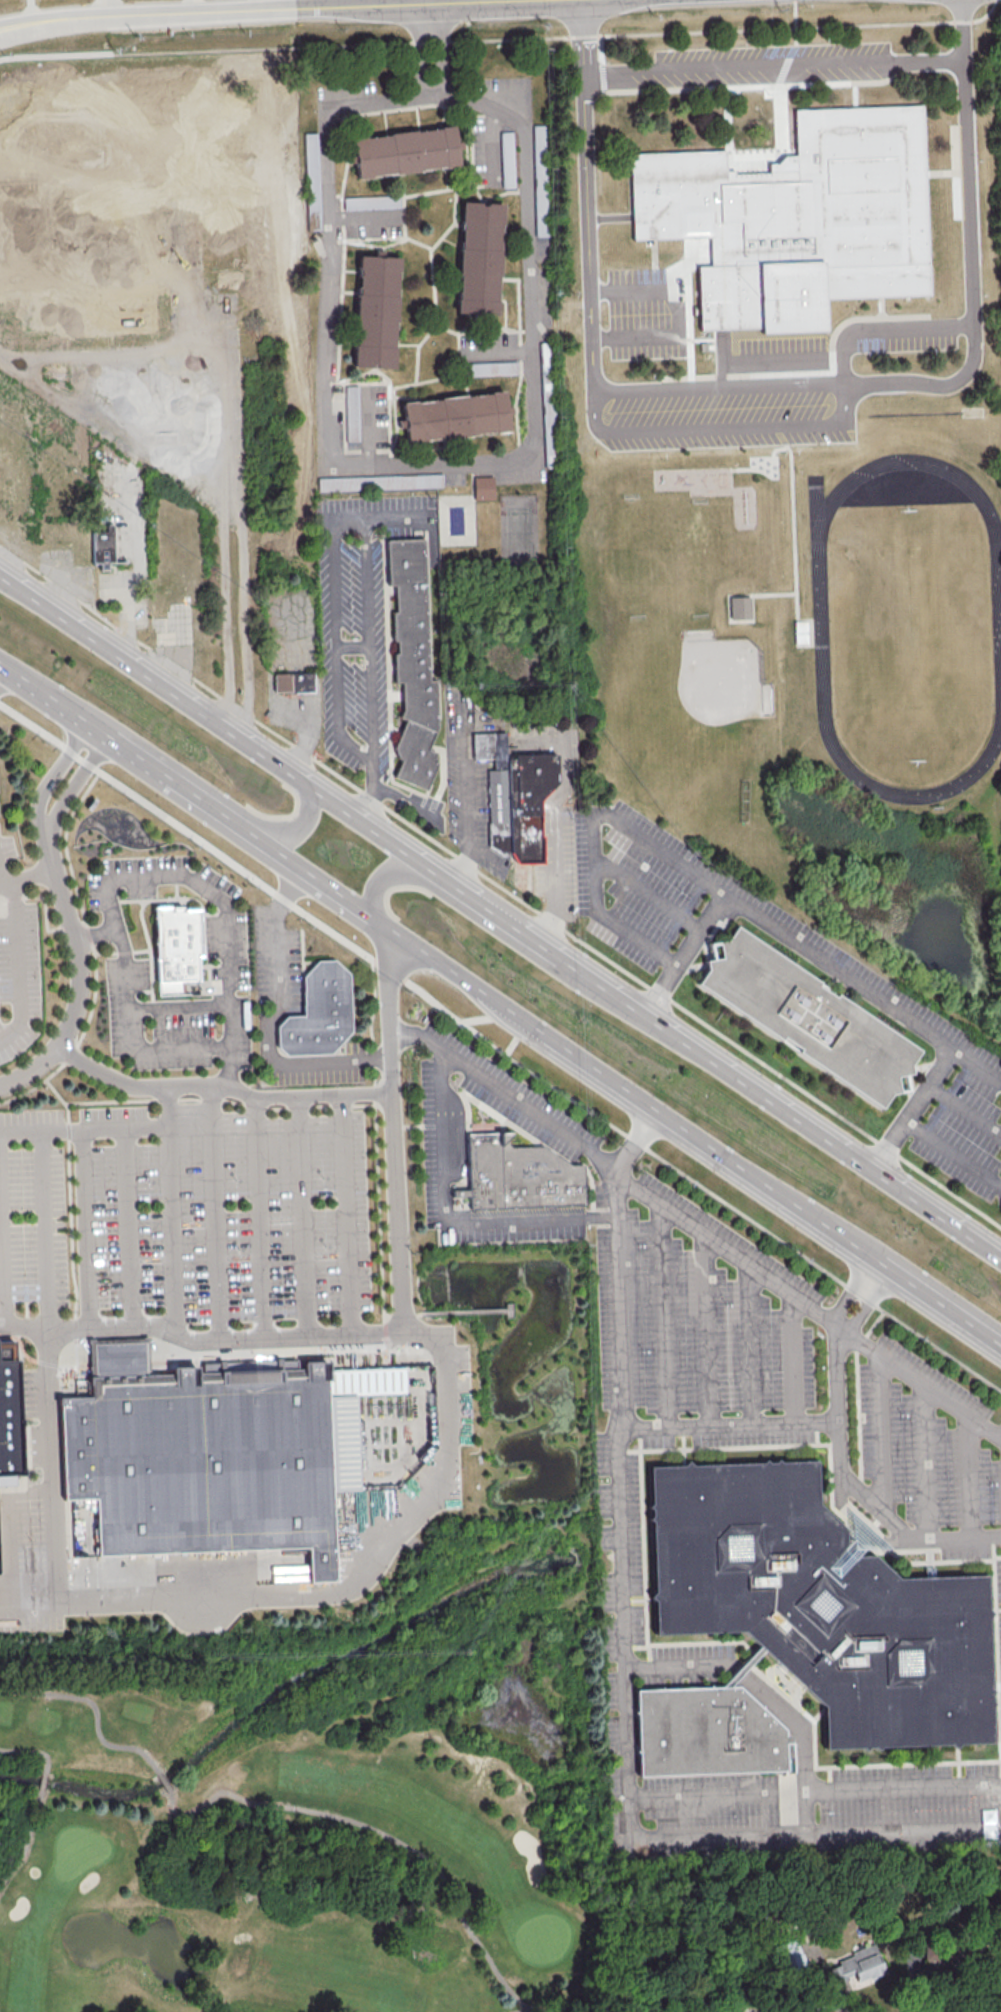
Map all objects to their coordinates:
road: (416, 1)
road: (439, 1)
road: (254, 7)
road: (503, 40)
road: (419, 51)
road: (441, 51)
road: (773, 66)
parking lot: (754, 68)
road: (725, 89)
road: (781, 102)
road: (731, 129)
building: (404, 151)
building: (507, 159)
road: (954, 174)
road: (942, 175)
building: (311, 181)
road: (587, 197)
road: (631, 198)
building: (370, 201)
road: (612, 218)
building: (802, 220)
road: (653, 243)
road: (702, 246)
road: (654, 251)
road: (970, 251)
building: (478, 257)
road: (690, 264)
road: (688, 305)
road: (881, 308)
building: (374, 310)
parking lot: (645, 316)
road: (679, 318)
road: (885, 330)
parking lot: (906, 341)
building: (704, 348)
parking lot: (782, 350)
road: (734, 352)
road: (774, 362)
road: (720, 364)
building: (491, 367)
road: (815, 373)
road: (718, 389)
building: (351, 412)
parking lot: (731, 414)
building: (454, 416)
road: (724, 431)
road: (780, 437)
road: (525, 460)
road: (739, 471)
building: (379, 481)
building: (485, 490)
road: (233, 516)
road: (399, 516)
road: (368, 520)
road: (792, 520)
park: (519, 532)
park: (714, 534)
park: (632, 536)
building: (101, 544)
road: (737, 596)
building: (743, 609)
road: (118, 630)
park: (821, 631)
stadium: (802, 633)
park: (911, 635)
road: (354, 647)
building: (416, 662)
road: (1, 666)
building: (297, 683)
road: (48, 696)
park: (685, 716)
road: (233, 720)
road: (219, 723)
road: (134, 755)
road: (46, 784)
road: (69, 791)
building: (520, 799)
road: (213, 808)
road: (556, 820)
road: (596, 821)
road: (295, 828)
road: (26, 875)
road: (2, 876)
road: (392, 876)
road: (326, 885)
road: (9, 890)
road: (289, 890)
road: (227, 915)
road: (508, 919)
road: (619, 925)
road: (106, 931)
road: (119, 944)
building: (177, 947)
road: (94, 953)
parking lot: (17, 960)
parking lot: (276, 964)
road: (620, 968)
road: (17, 973)
parking lot: (127, 973)
road: (841, 978)
road: (78, 984)
road: (178, 1006)
building: (320, 1011)
building: (810, 1017)
road: (268, 1042)
road: (135, 1046)
road: (499, 1050)
parking lot: (312, 1068)
road: (976, 1068)
road: (392, 1082)
road: (220, 1086)
road: (506, 1092)
road: (640, 1098)
road: (221, 1099)
road: (166, 1104)
road: (789, 1110)
road: (83, 1126)
road: (376, 1147)
road: (954, 1154)
building: (522, 1176)
road: (213, 1213)
road: (343, 1214)
parking lot: (185, 1215)
road: (300, 1216)
road: (69, 1217)
road: (261, 1217)
road: (452, 1217)
road: (126, 1225)
road: (83, 1226)
road: (43, 1228)
road: (172, 1230)
road: (731, 1250)
road: (2, 1277)
road: (941, 1301)
road: (508, 1309)
road: (465, 1310)
road: (403, 1314)
road: (664, 1315)
road: (702, 1328)
road: (198, 1341)
road: (751, 1345)
road: (795, 1359)
road: (919, 1382)
building: (12, 1410)
road: (778, 1422)
road: (882, 1434)
building: (220, 1453)
road: (928, 1464)
road: (52, 1467)
road: (970, 1477)
road: (890, 1518)
building: (1, 1550)
road: (377, 1556)
building: (822, 1605)
road: (684, 1667)
building: (744, 1668)
road: (740, 1673)
road: (632, 1685)
road: (93, 1711)
building: (707, 1733)
road: (804, 1739)
road: (32, 1752)
road: (164, 1783)
road: (41, 1790)
park: (321, 1806)
building: (988, 1824)
road: (380, 1834)
road: (24, 1849)
building: (791, 1958)
building: (856, 1966)
road: (523, 2011)
building: (753, 2011)

